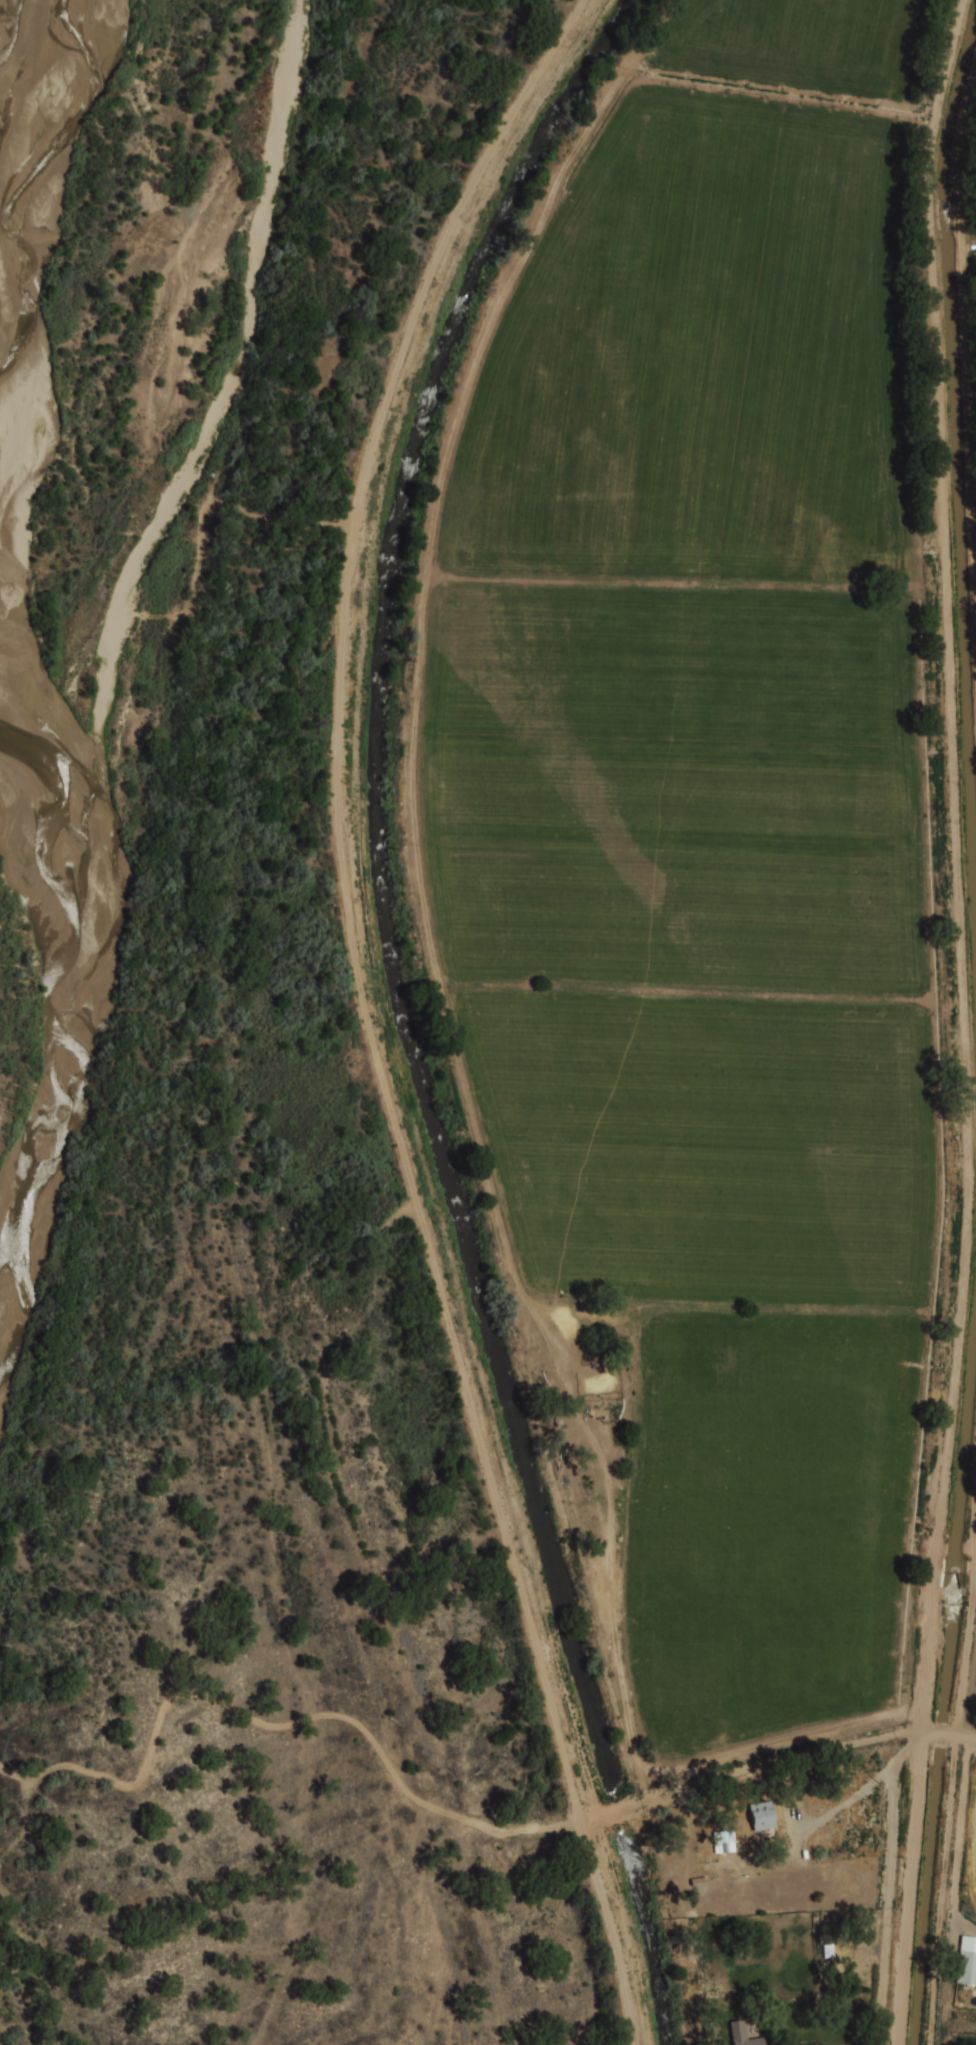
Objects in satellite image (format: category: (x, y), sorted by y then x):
river: (24, 90)
river: (85, 1000)
road: (822, 1749)
building: (766, 1813)
road: (961, 1823)
building: (726, 1842)
road: (911, 1889)
building: (966, 1961)
building: (740, 2031)

